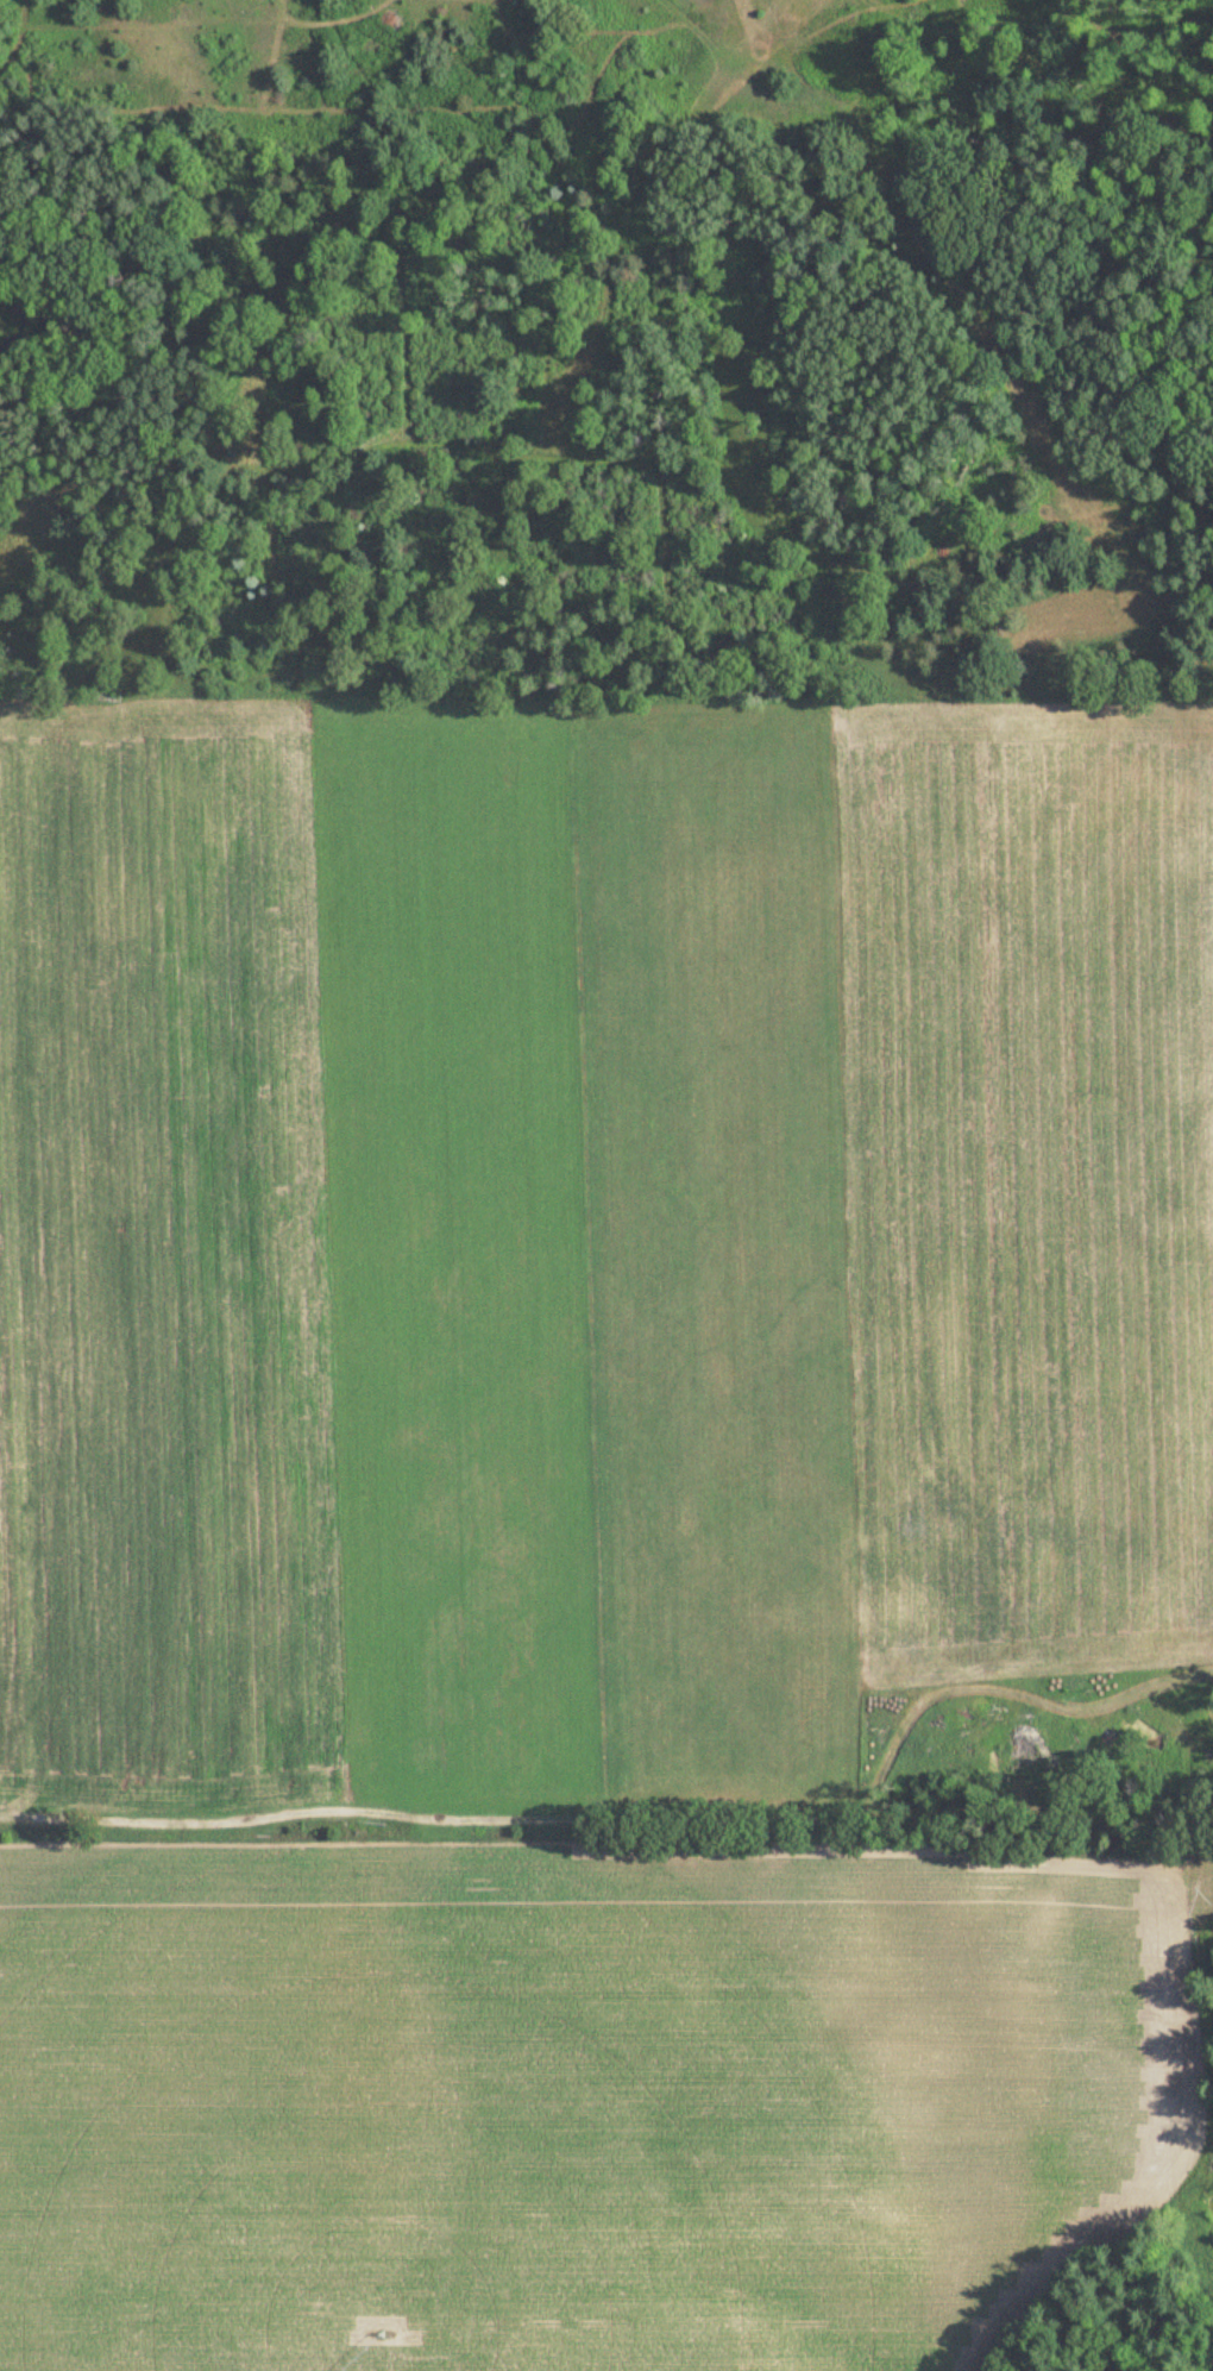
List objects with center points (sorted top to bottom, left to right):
road: (606, 1819)

